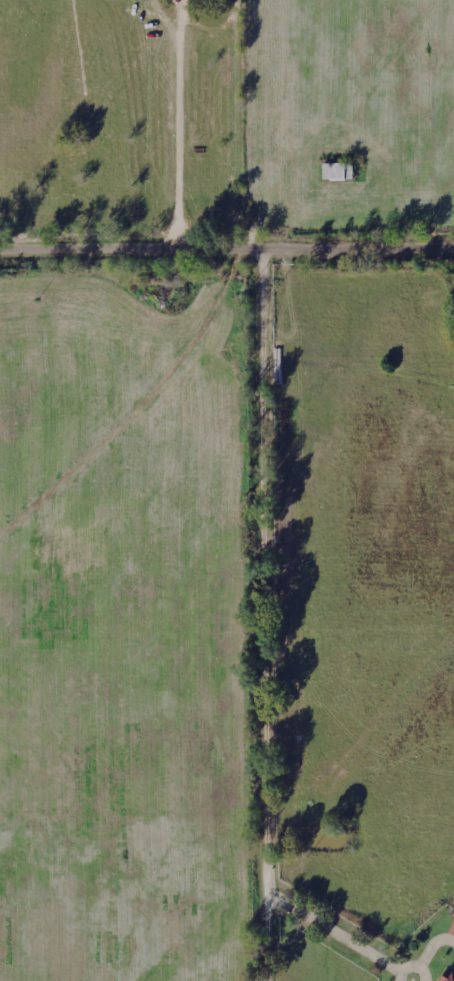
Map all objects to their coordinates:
road: (226, 253)
road: (271, 594)
building: (453, 929)
building: (451, 978)

